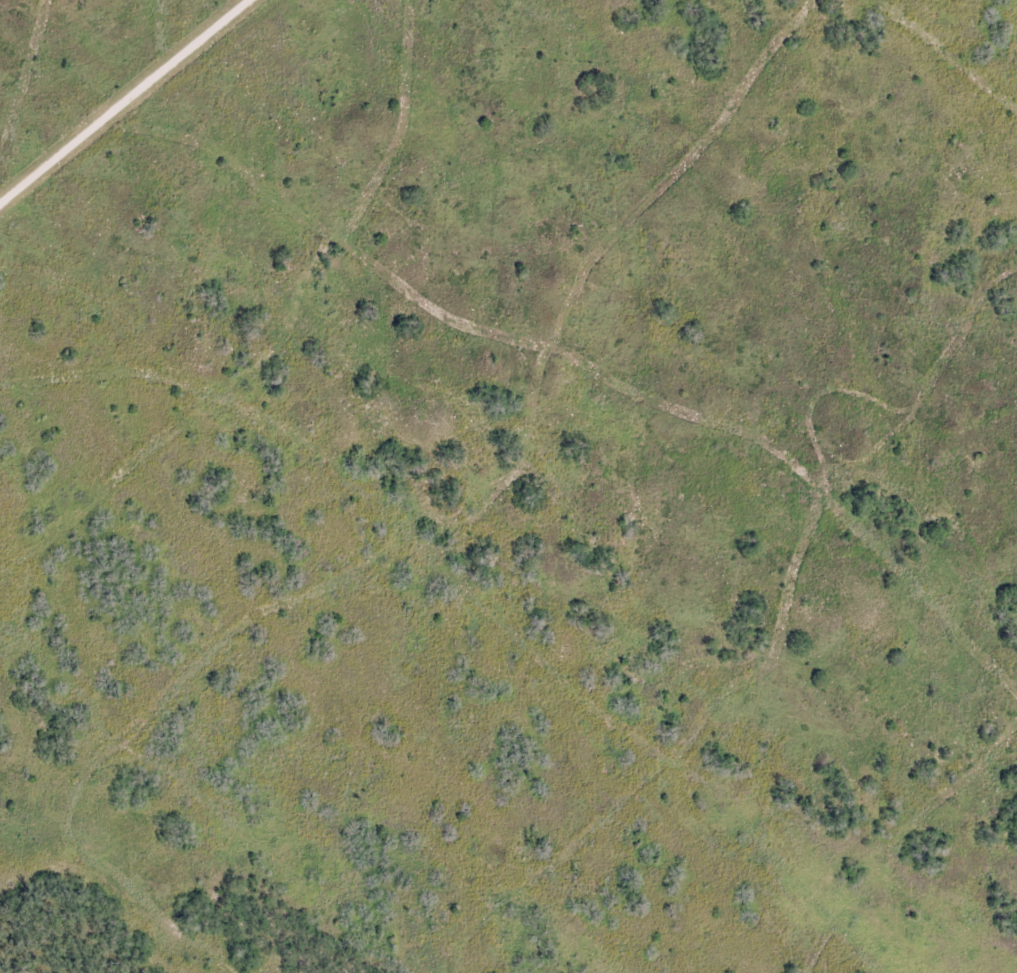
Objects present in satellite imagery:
road: (124, 100)

